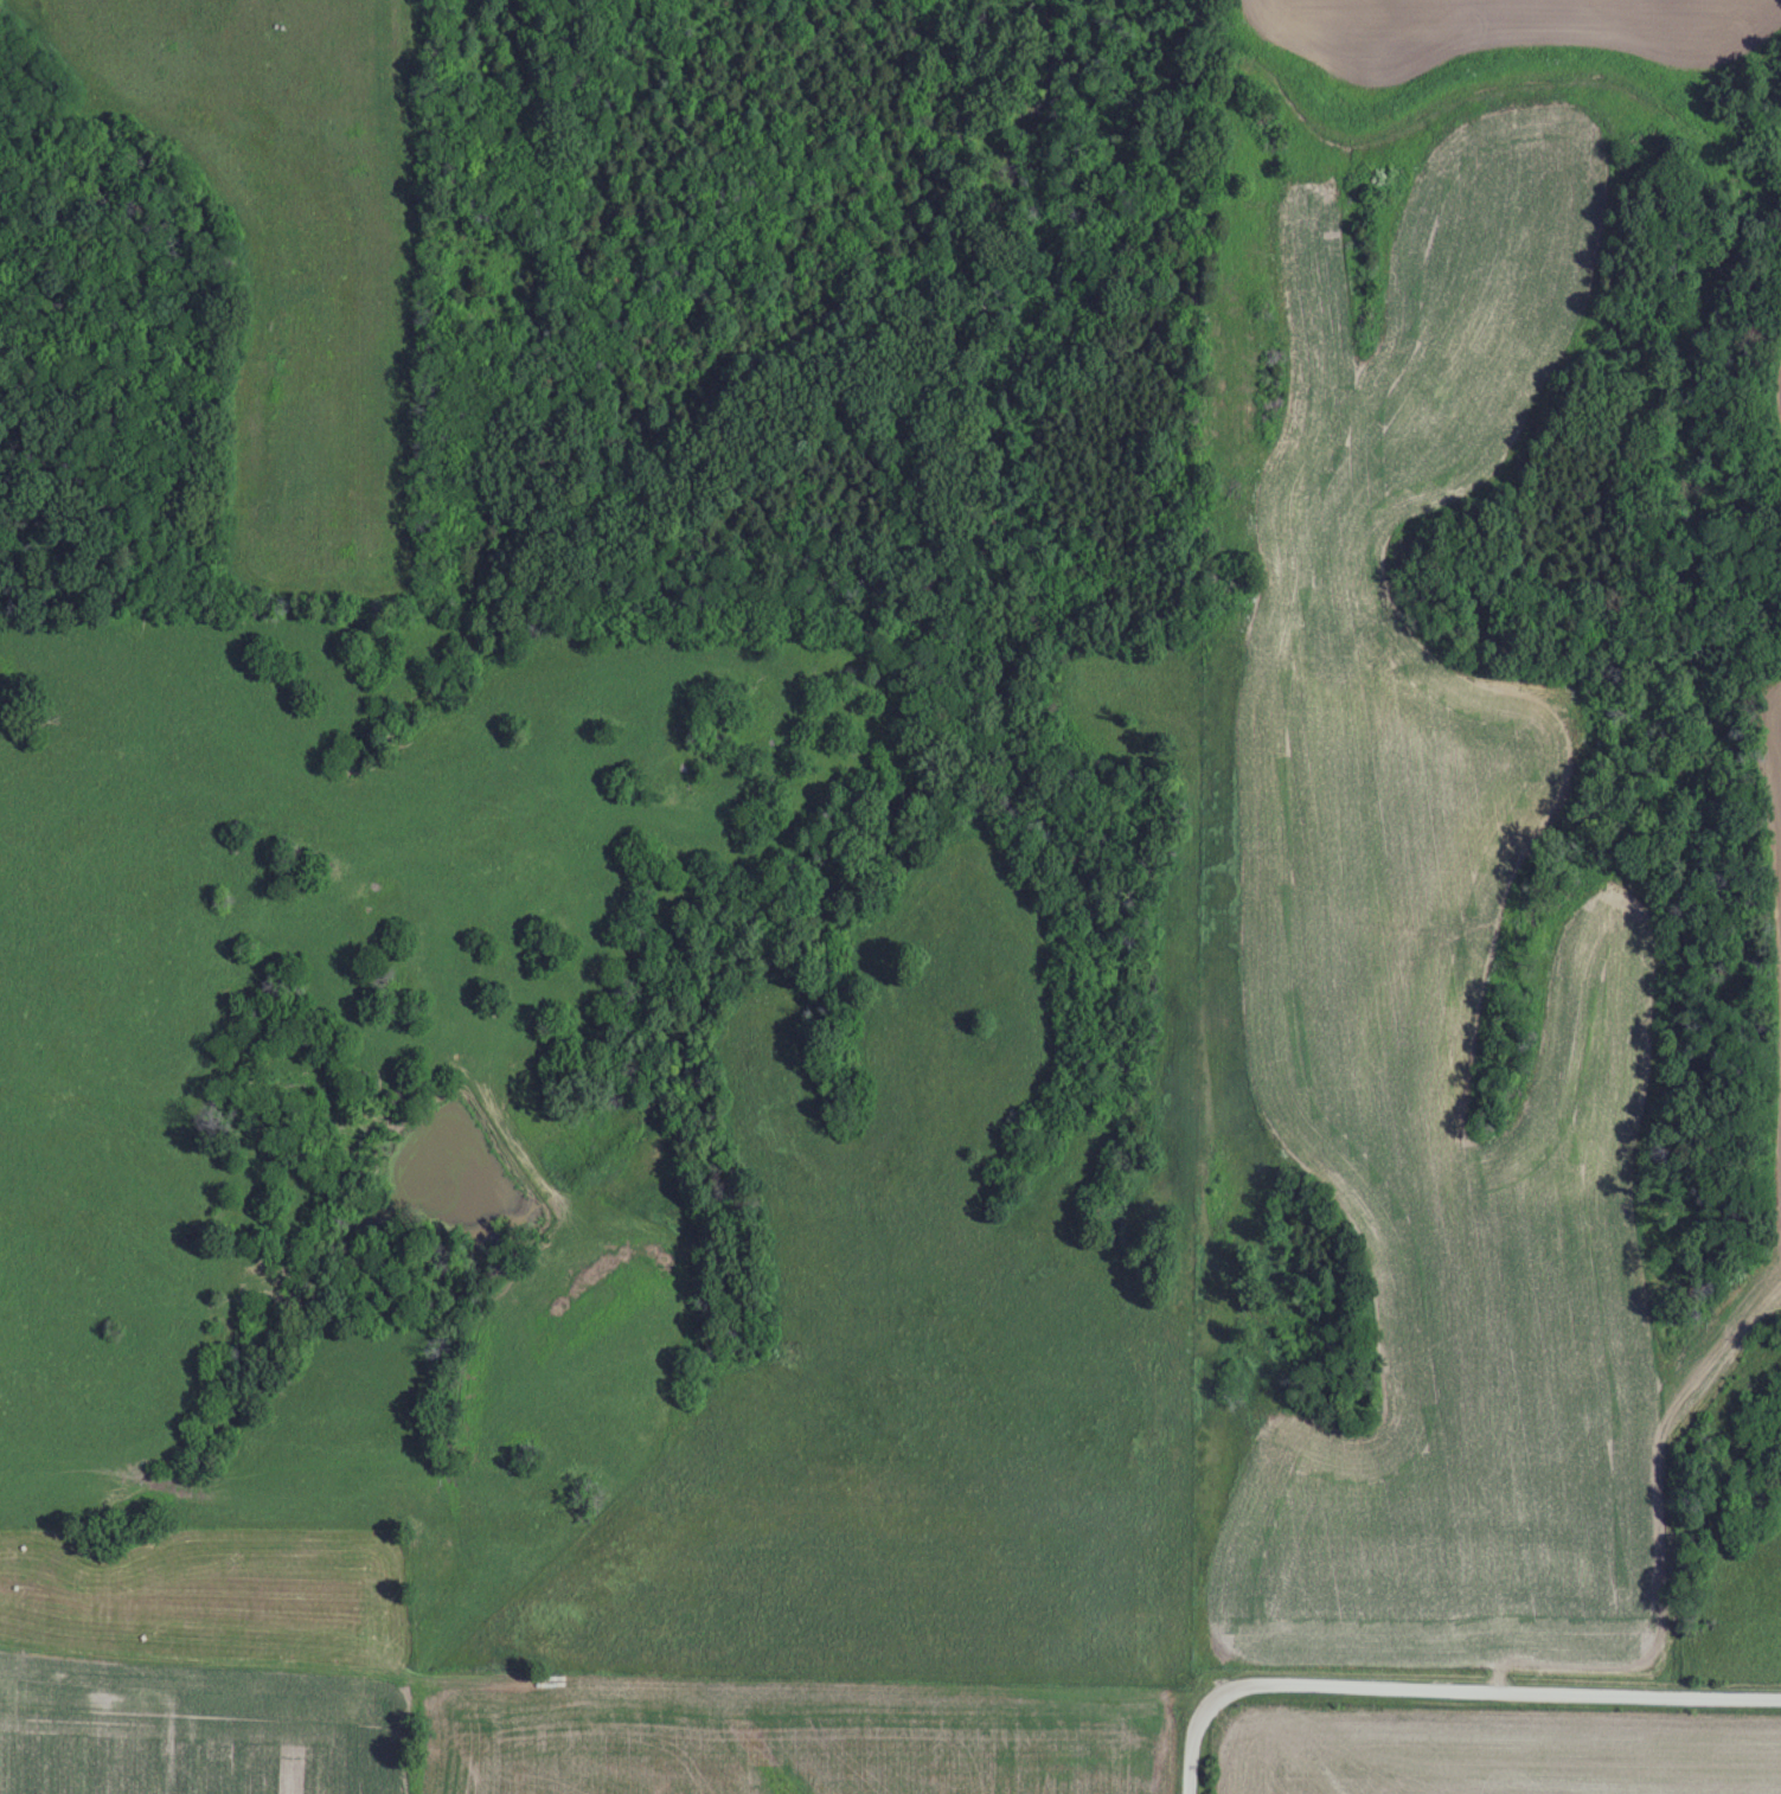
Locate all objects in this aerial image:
road: (1446, 1687)

